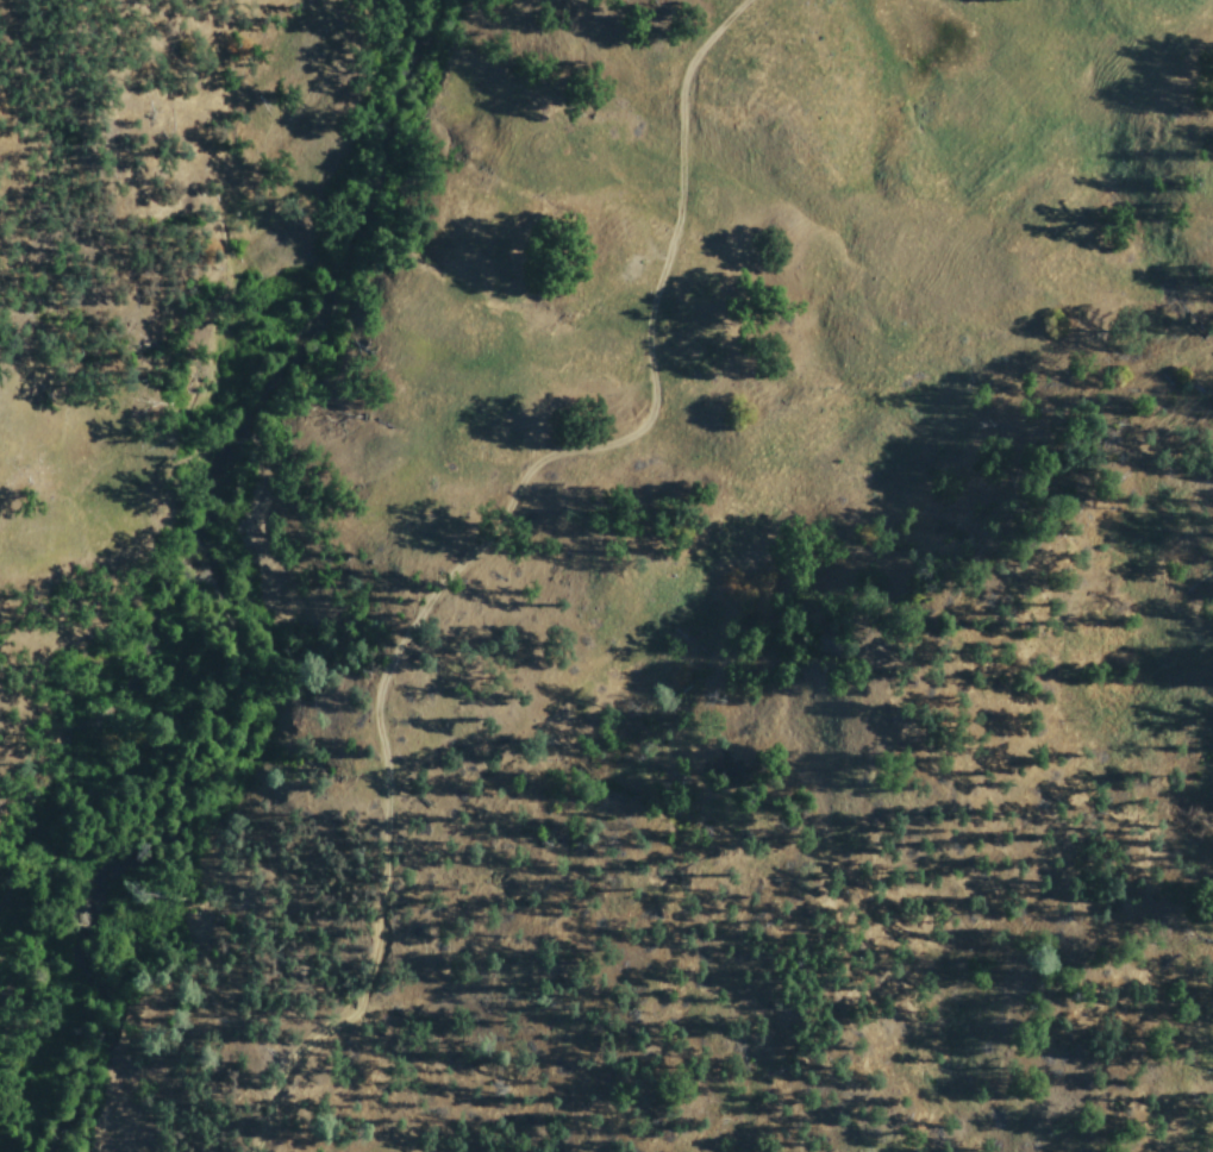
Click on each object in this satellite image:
road: (482, 553)

